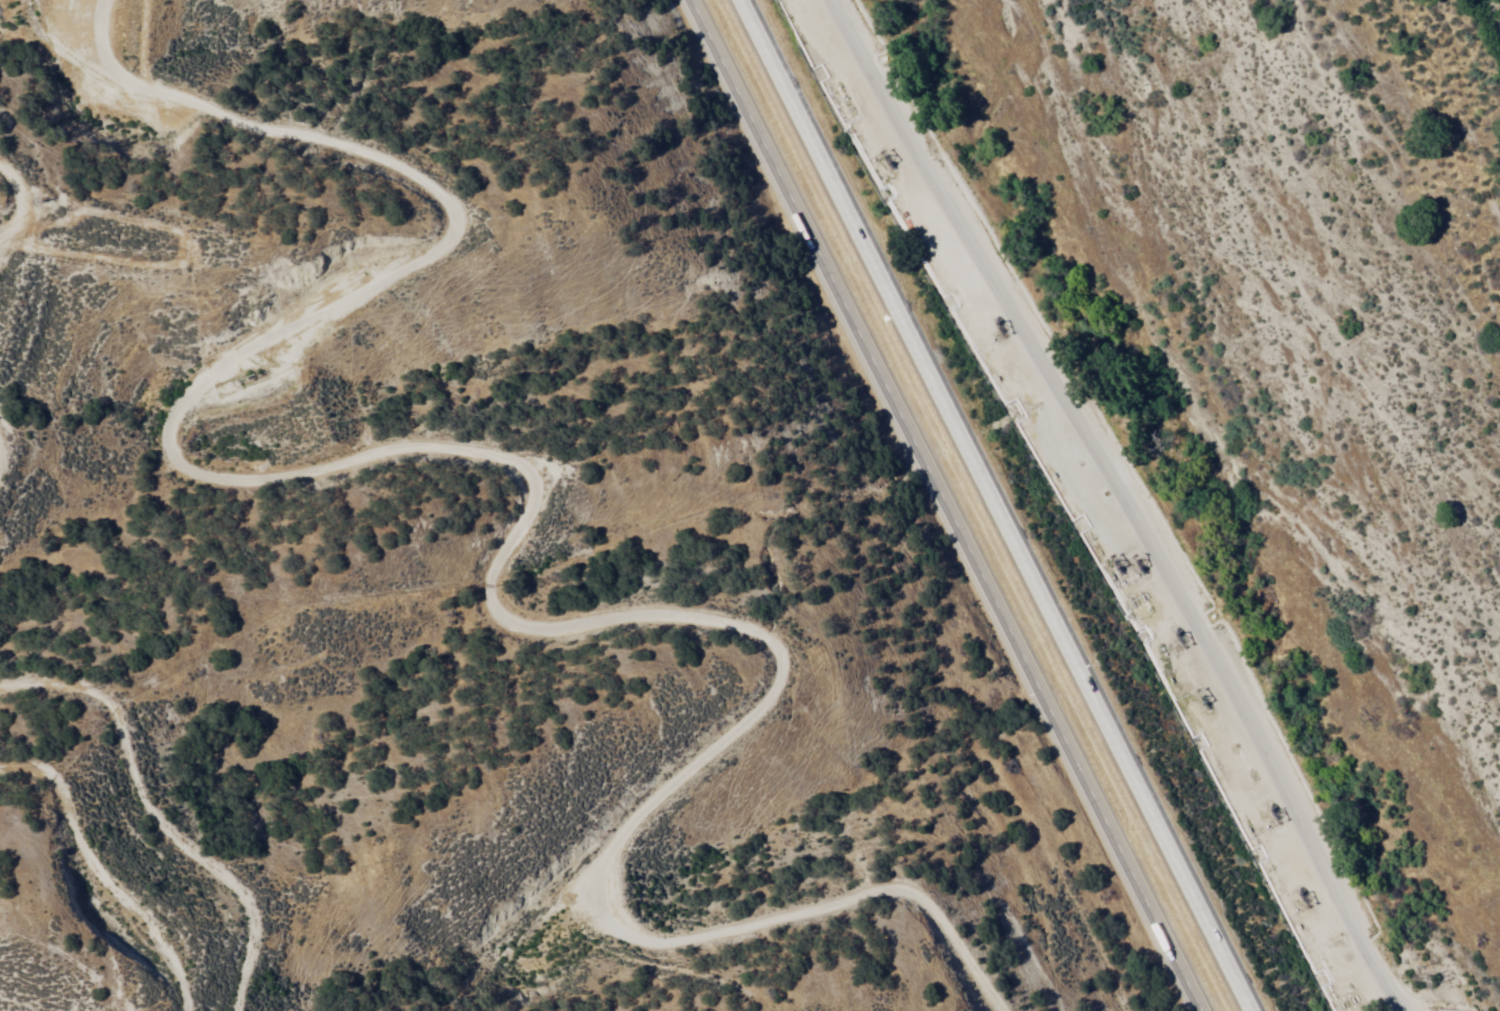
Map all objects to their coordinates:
road: (512, 478)
road: (941, 505)
road: (993, 505)
road: (1113, 508)
road: (150, 832)
road: (67, 932)

